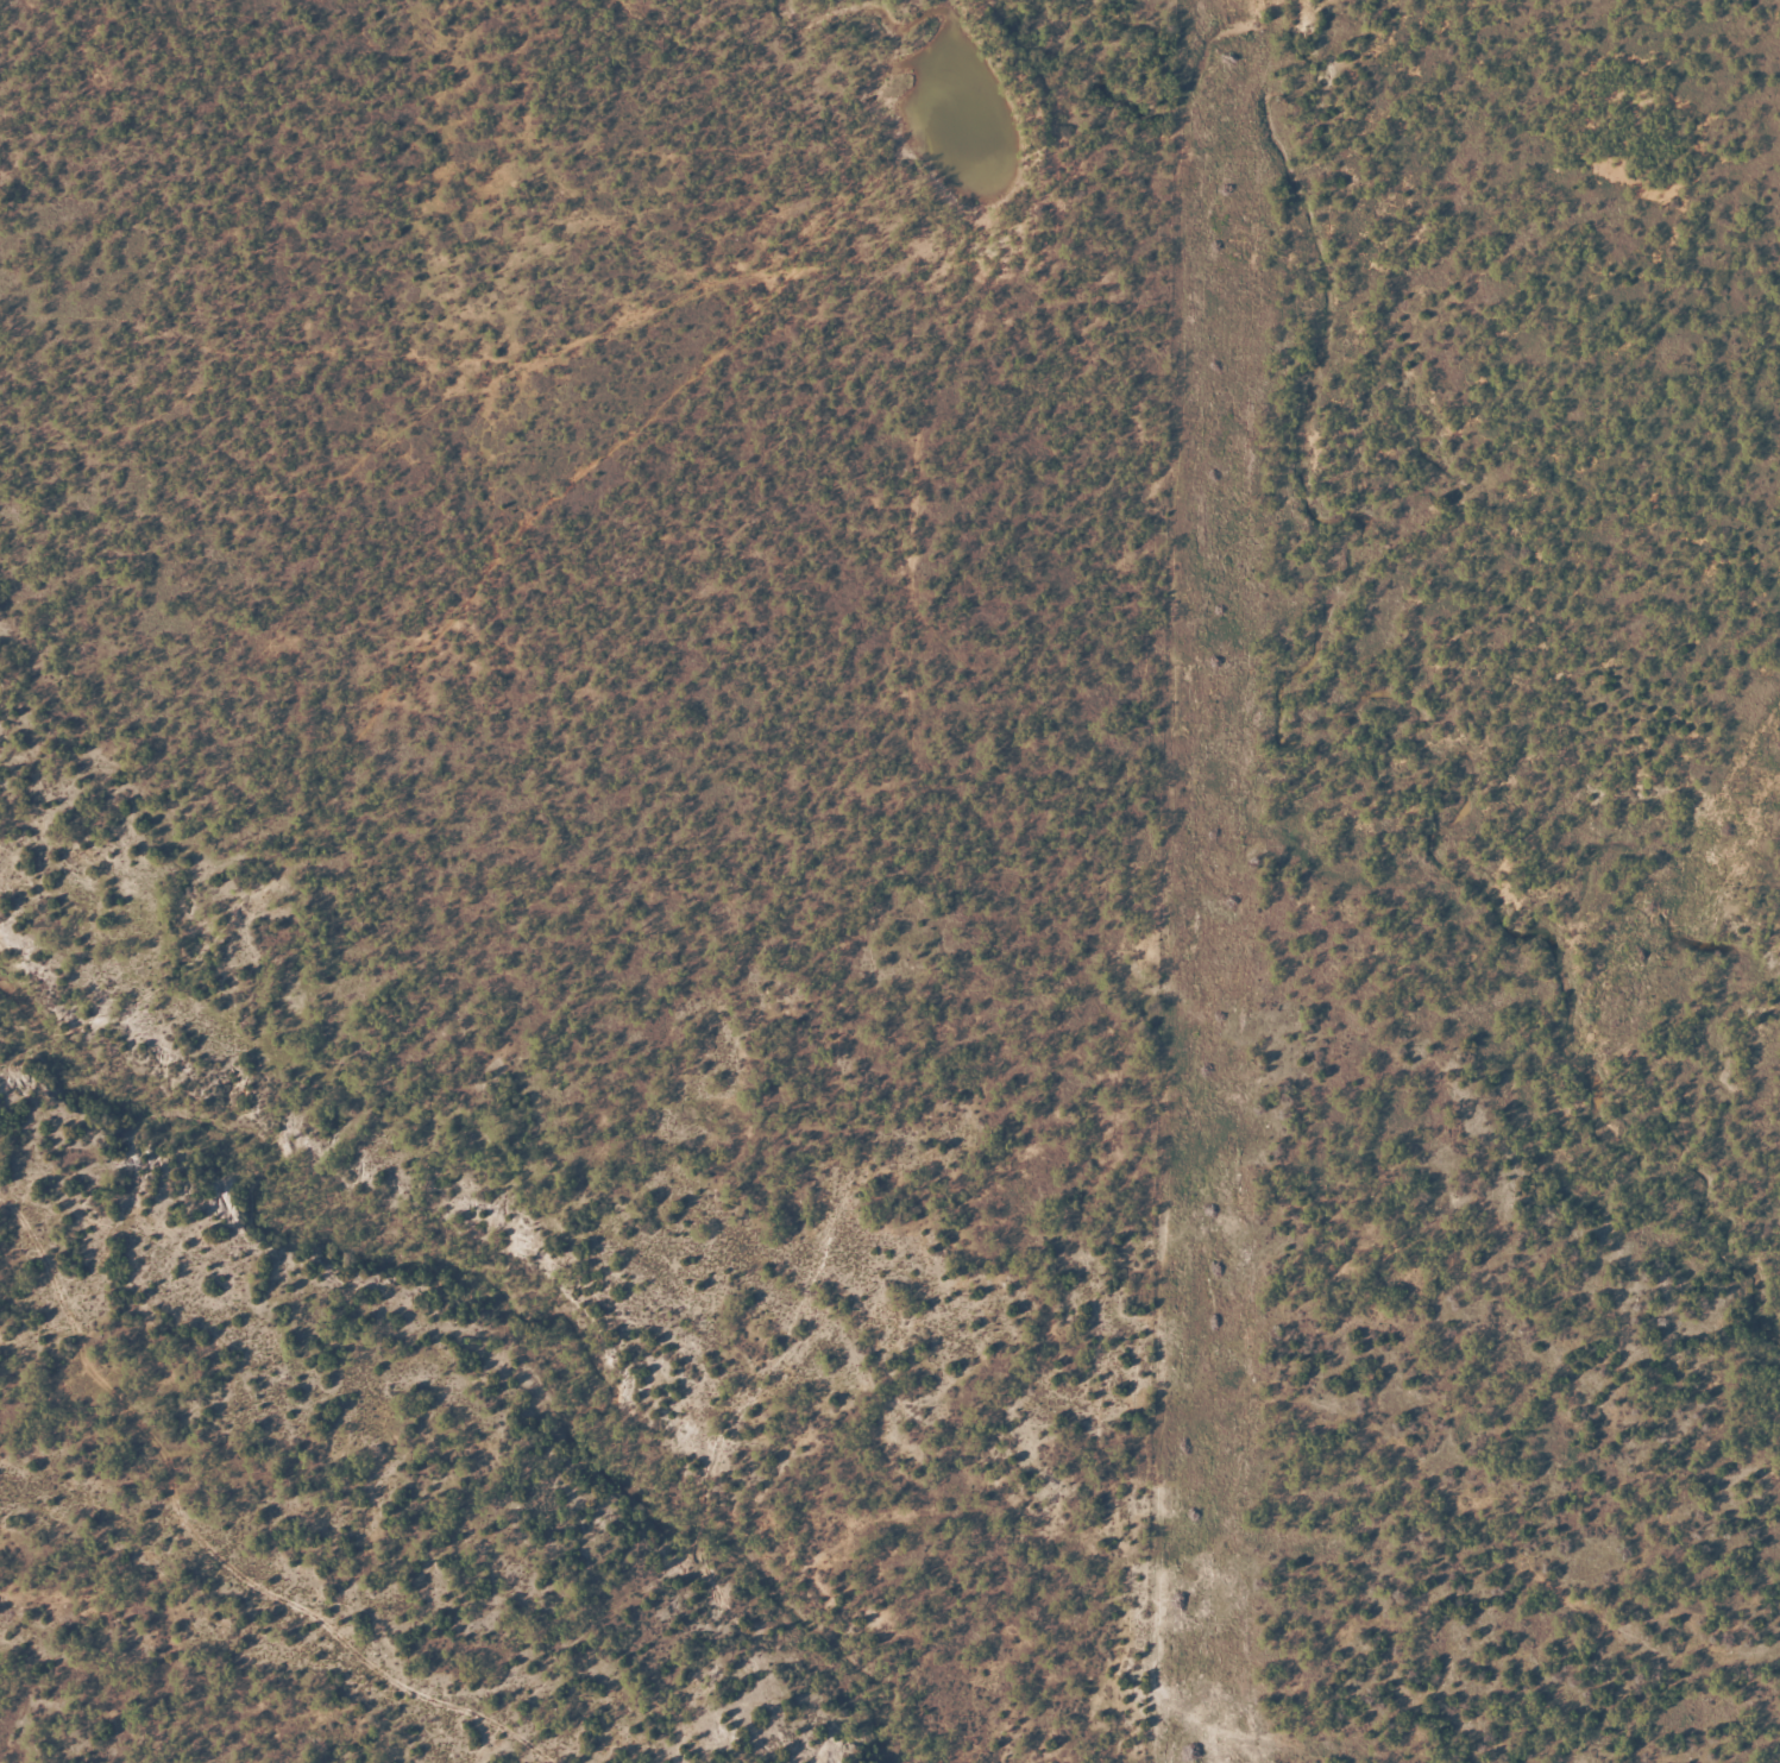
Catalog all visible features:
road: (483, 445)

